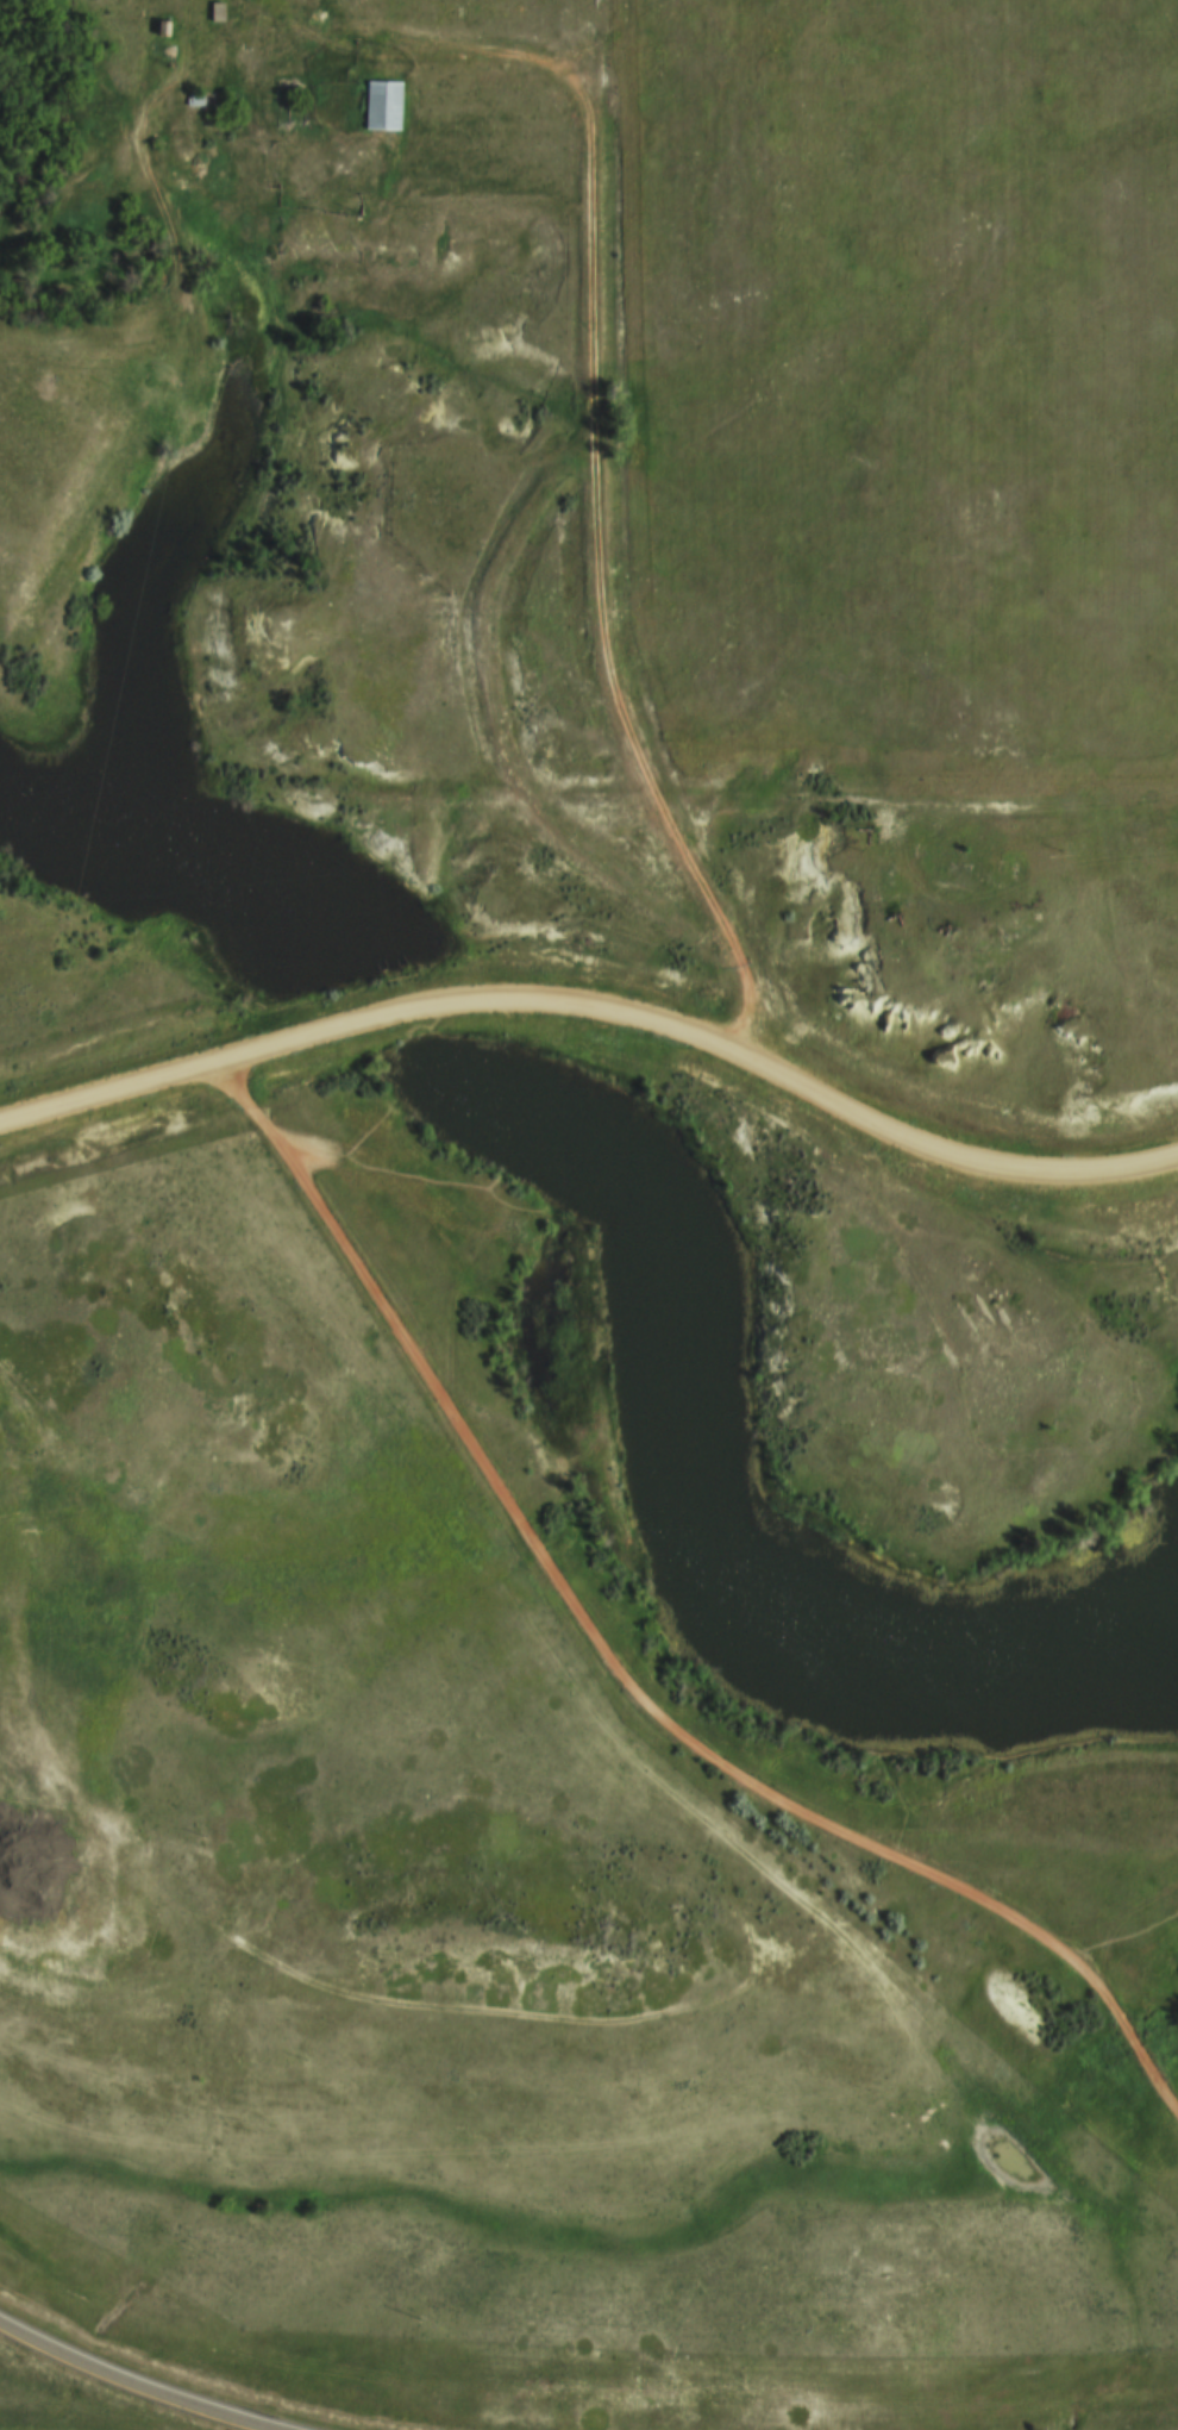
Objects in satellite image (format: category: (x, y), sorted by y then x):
building: (218, 13)
road: (290, 18)
building: (384, 106)
road: (594, 442)
road: (496, 732)
road: (913, 798)
road: (599, 1004)
road: (490, 1202)
road: (619, 1668)
road: (1019, 1830)
road: (1122, 1936)
road: (364, 2003)
road: (127, 2387)

